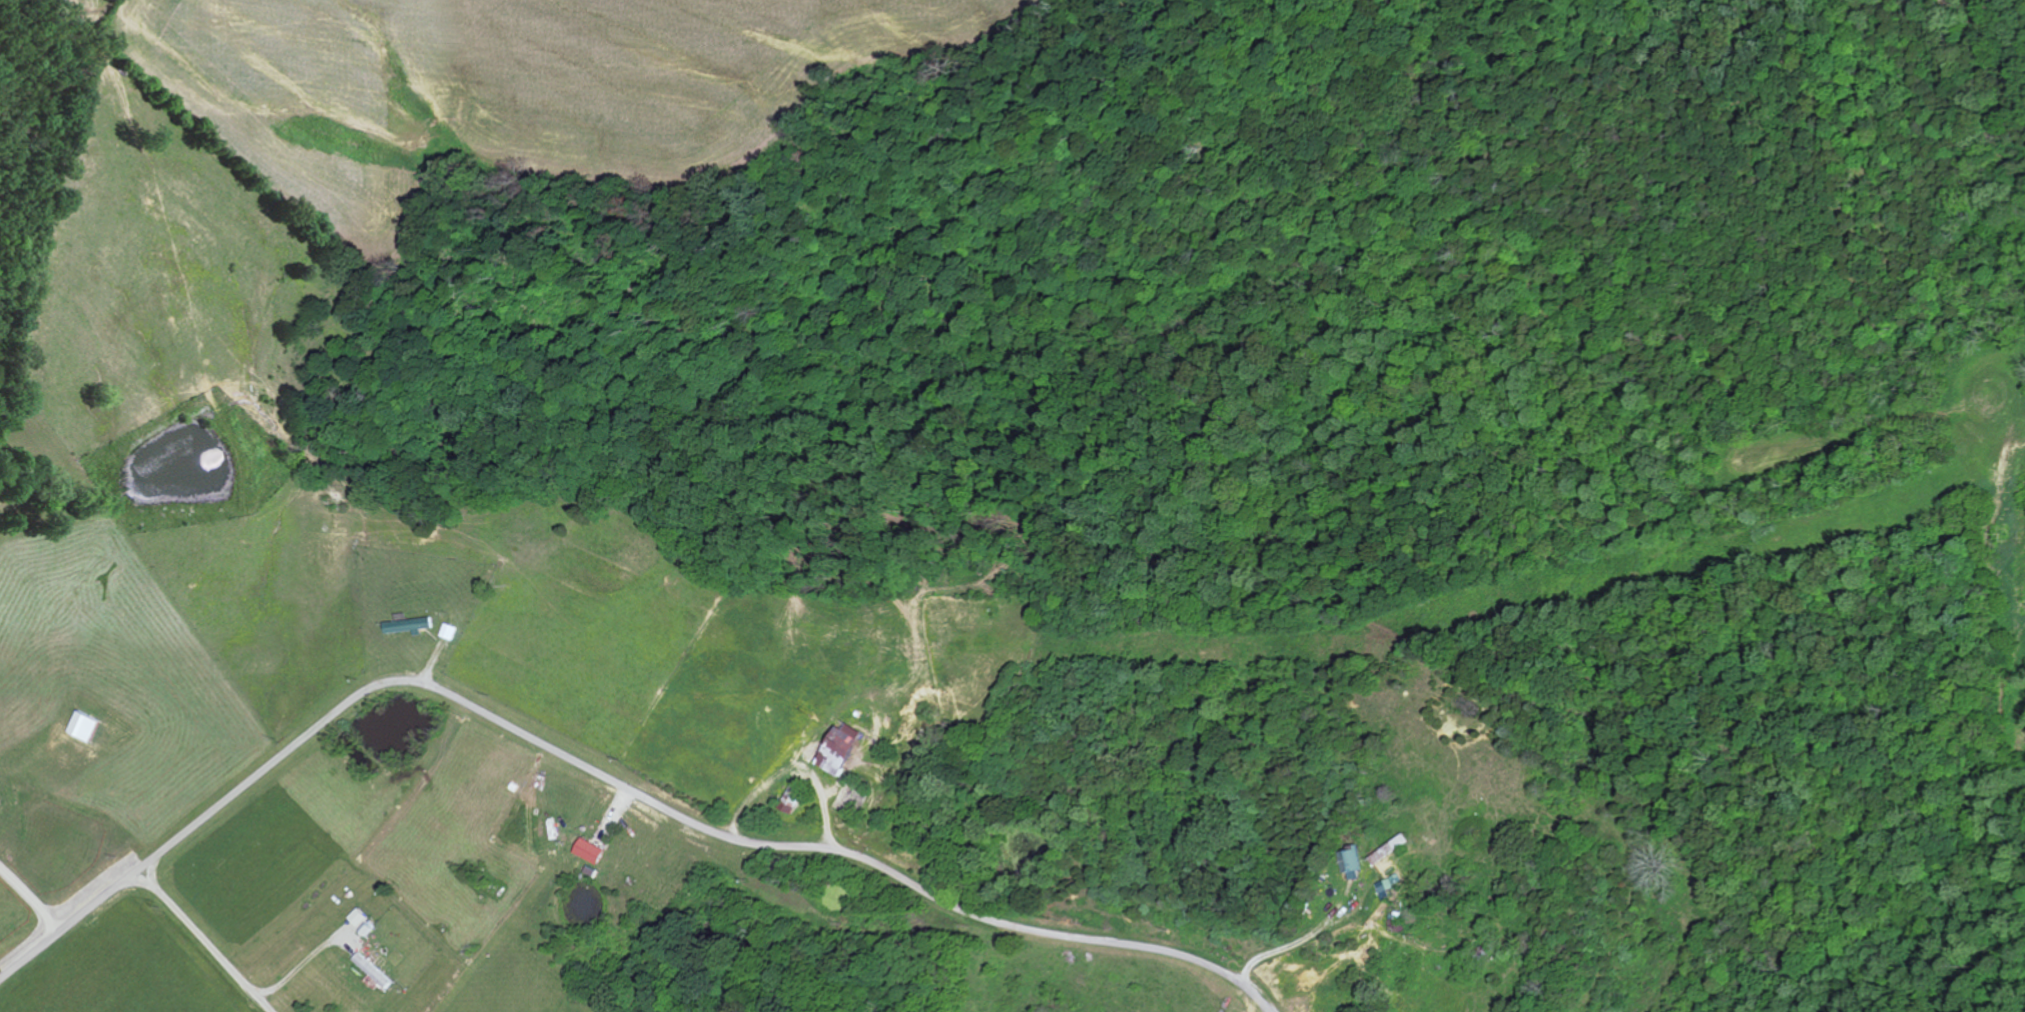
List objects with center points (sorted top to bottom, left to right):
building: (408, 625)
building: (449, 631)
building: (842, 748)
road: (604, 776)
building: (793, 798)
building: (0, 802)
building: (590, 851)
building: (1352, 863)
building: (1390, 886)
road: (201, 939)
building: (373, 971)

